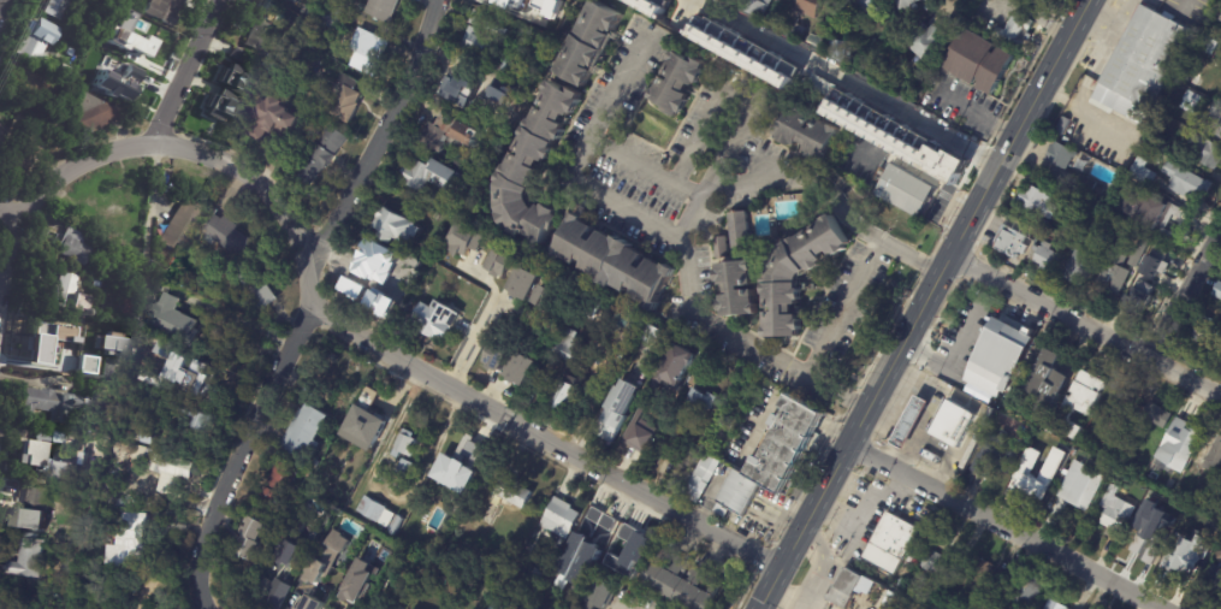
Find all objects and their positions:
power tower: (18, 1)
building: (295, 1)
building: (505, 1)
building: (905, 4)
building: (760, 7)
building: (808, 7)
building: (864, 7)
road: (4, 8)
building: (58, 8)
building: (384, 8)
building: (164, 11)
building: (332, 17)
building: (476, 18)
building: (262, 25)
building: (692, 26)
building: (497, 29)
building: (1016, 30)
building: (798, 31)
building: (128, 36)
building: (814, 41)
building: (589, 42)
building: (479, 43)
building: (930, 43)
building: (1209, 47)
building: (34, 48)
building: (152, 48)
building: (742, 51)
building: (840, 51)
building: (369, 52)
building: (235, 55)
building: (1146, 58)
building: (984, 64)
building: (506, 66)
building: (279, 67)
building: (66, 71)
road: (190, 72)
building: (1191, 76)
building: (235, 77)
building: (23, 81)
building: (126, 82)
building: (745, 82)
building: (677, 83)
road: (848, 83)
building: (113, 87)
building: (463, 94)
building: (346, 100)
building: (1191, 101)
building: (225, 106)
building: (91, 112)
building: (279, 116)
building: (1215, 122)
building: (0, 125)
building: (1065, 125)
building: (452, 132)
building: (1, 134)
building: (808, 135)
building: (894, 136)
road: (728, 147)
building: (1166, 147)
building: (1205, 150)
building: (1063, 155)
building: (321, 156)
building: (23, 158)
building: (1083, 166)
building: (533, 167)
road: (644, 167)
building: (1144, 172)
building: (434, 177)
road: (811, 181)
building: (1186, 181)
building: (1067, 183)
building: (1086, 185)
building: (906, 189)
building: (1102, 191)
building: (125, 196)
building: (1041, 202)
building: (1073, 203)
building: (89, 213)
building: (1169, 213)
building: (1095, 217)
building: (1075, 220)
building: (183, 224)
parking lot: (995, 225)
building: (1045, 225)
building: (396, 227)
building: (225, 230)
building: (740, 235)
road: (674, 237)
building: (463, 240)
building: (1012, 242)
building: (76, 246)
building: (723, 249)
building: (1139, 252)
building: (612, 261)
building: (1063, 262)
building: (1154, 262)
building: (499, 264)
building: (443, 265)
road: (10, 267)
building: (1118, 273)
building: (796, 276)
building: (375, 279)
building: (524, 282)
building: (95, 284)
building: (253, 285)
building: (740, 290)
road: (298, 291)
road: (1186, 292)
building: (1219, 292)
building: (70, 294)
building: (1137, 296)
building: (545, 297)
building: (1146, 302)
road: (920, 304)
road: (841, 306)
building: (185, 319)
building: (439, 321)
road: (481, 323)
road: (1085, 324)
building: (1208, 333)
building: (652, 335)
road: (366, 338)
building: (55, 342)
building: (177, 348)
building: (568, 349)
road: (952, 356)
building: (1000, 356)
building: (494, 357)
building: (521, 367)
building: (730, 371)
building: (166, 376)
building: (203, 377)
building: (693, 380)
building: (1054, 386)
building: (540, 390)
building: (1084, 392)
building: (564, 395)
building: (988, 401)
building: (325, 402)
building: (57, 403)
building: (642, 404)
building: (697, 407)
building: (342, 412)
building: (617, 413)
building: (206, 416)
building: (1161, 416)
building: (952, 419)
building: (366, 421)
building: (908, 421)
gas station: (914, 425)
building: (308, 430)
building: (1191, 433)
building: (45, 434)
building: (159, 438)
building: (979, 438)
building: (407, 443)
building: (32, 454)
building: (995, 456)
building: (775, 457)
building: (1213, 457)
building: (360, 460)
building: (1160, 461)
building: (143, 462)
building: (318, 463)
building: (174, 467)
building: (405, 467)
building: (66, 471)
building: (463, 471)
building: (307, 473)
building: (37, 479)
building: (1038, 479)
building: (703, 480)
building: (280, 481)
building: (1081, 486)
building: (1215, 486)
building: (1220, 489)
building: (514, 491)
building: (1163, 502)
building: (32, 508)
building: (377, 510)
building: (1119, 513)
building: (1191, 513)
building: (1196, 516)
building: (561, 518)
building: (397, 525)
building: (592, 525)
road: (1004, 526)
building: (422, 531)
building: (1150, 532)
building: (254, 537)
building: (897, 537)
building: (639, 540)
building: (135, 542)
building: (295, 543)
building: (427, 550)
building: (1193, 551)
building: (1220, 555)
building: (28, 556)
building: (327, 557)
building: (587, 557)
building: (457, 562)
building: (937, 564)
building: (537, 573)
building: (979, 574)
building: (1214, 577)
building: (357, 581)
building: (683, 581)
building: (995, 585)
building: (75, 589)
building: (842, 590)
building: (1024, 592)
building: (517, 593)
building: (277, 595)
building: (601, 595)
building: (4, 601)
road: (205, 603)
building: (313, 603)
building: (498, 605)
building: (1055, 605)
building: (915, 608)
building: (947, 608)

